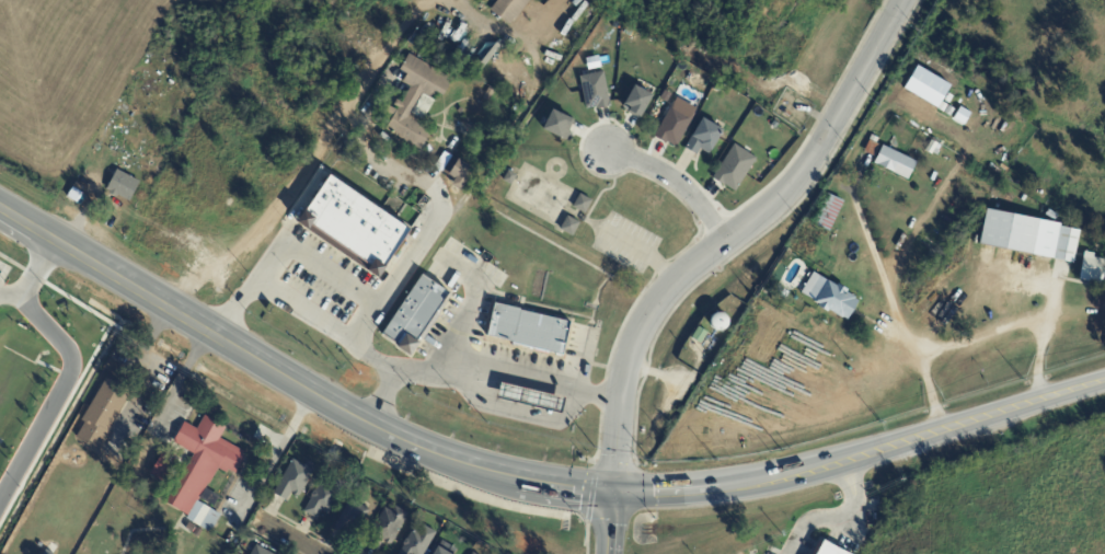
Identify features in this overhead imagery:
building: (509, 9)
road: (398, 35)
crop: (64, 74)
building: (592, 90)
building: (925, 91)
building: (490, 95)
building: (949, 99)
building: (635, 100)
building: (417, 102)
building: (460, 111)
building: (556, 124)
building: (675, 127)
building: (706, 138)
building: (873, 147)
building: (114, 154)
building: (896, 162)
building: (733, 168)
building: (459, 173)
building: (510, 178)
road: (675, 185)
building: (123, 186)
building: (1055, 196)
building: (583, 205)
building: (830, 212)
road: (430, 221)
building: (353, 224)
building: (571, 226)
building: (1008, 231)
road: (734, 236)
building: (1069, 245)
road: (637, 252)
building: (1093, 268)
road: (335, 273)
road: (31, 276)
building: (834, 298)
road: (298, 309)
building: (919, 314)
building: (415, 318)
building: (531, 331)
road: (987, 334)
building: (701, 336)
road: (483, 365)
road: (148, 373)
road: (176, 379)
road: (1072, 392)
road: (58, 396)
building: (532, 400)
road: (518, 408)
building: (103, 416)
road: (990, 416)
road: (277, 450)
road: (444, 457)
building: (165, 468)
building: (203, 470)
building: (293, 481)
traffic signals: (618, 490)
building: (324, 498)
road: (840, 516)
building: (352, 517)
road: (613, 521)
building: (388, 528)
road: (289, 538)
building: (419, 542)
building: (827, 549)
building: (51, 550)
building: (256, 550)
building: (450, 551)
building: (471, 553)

